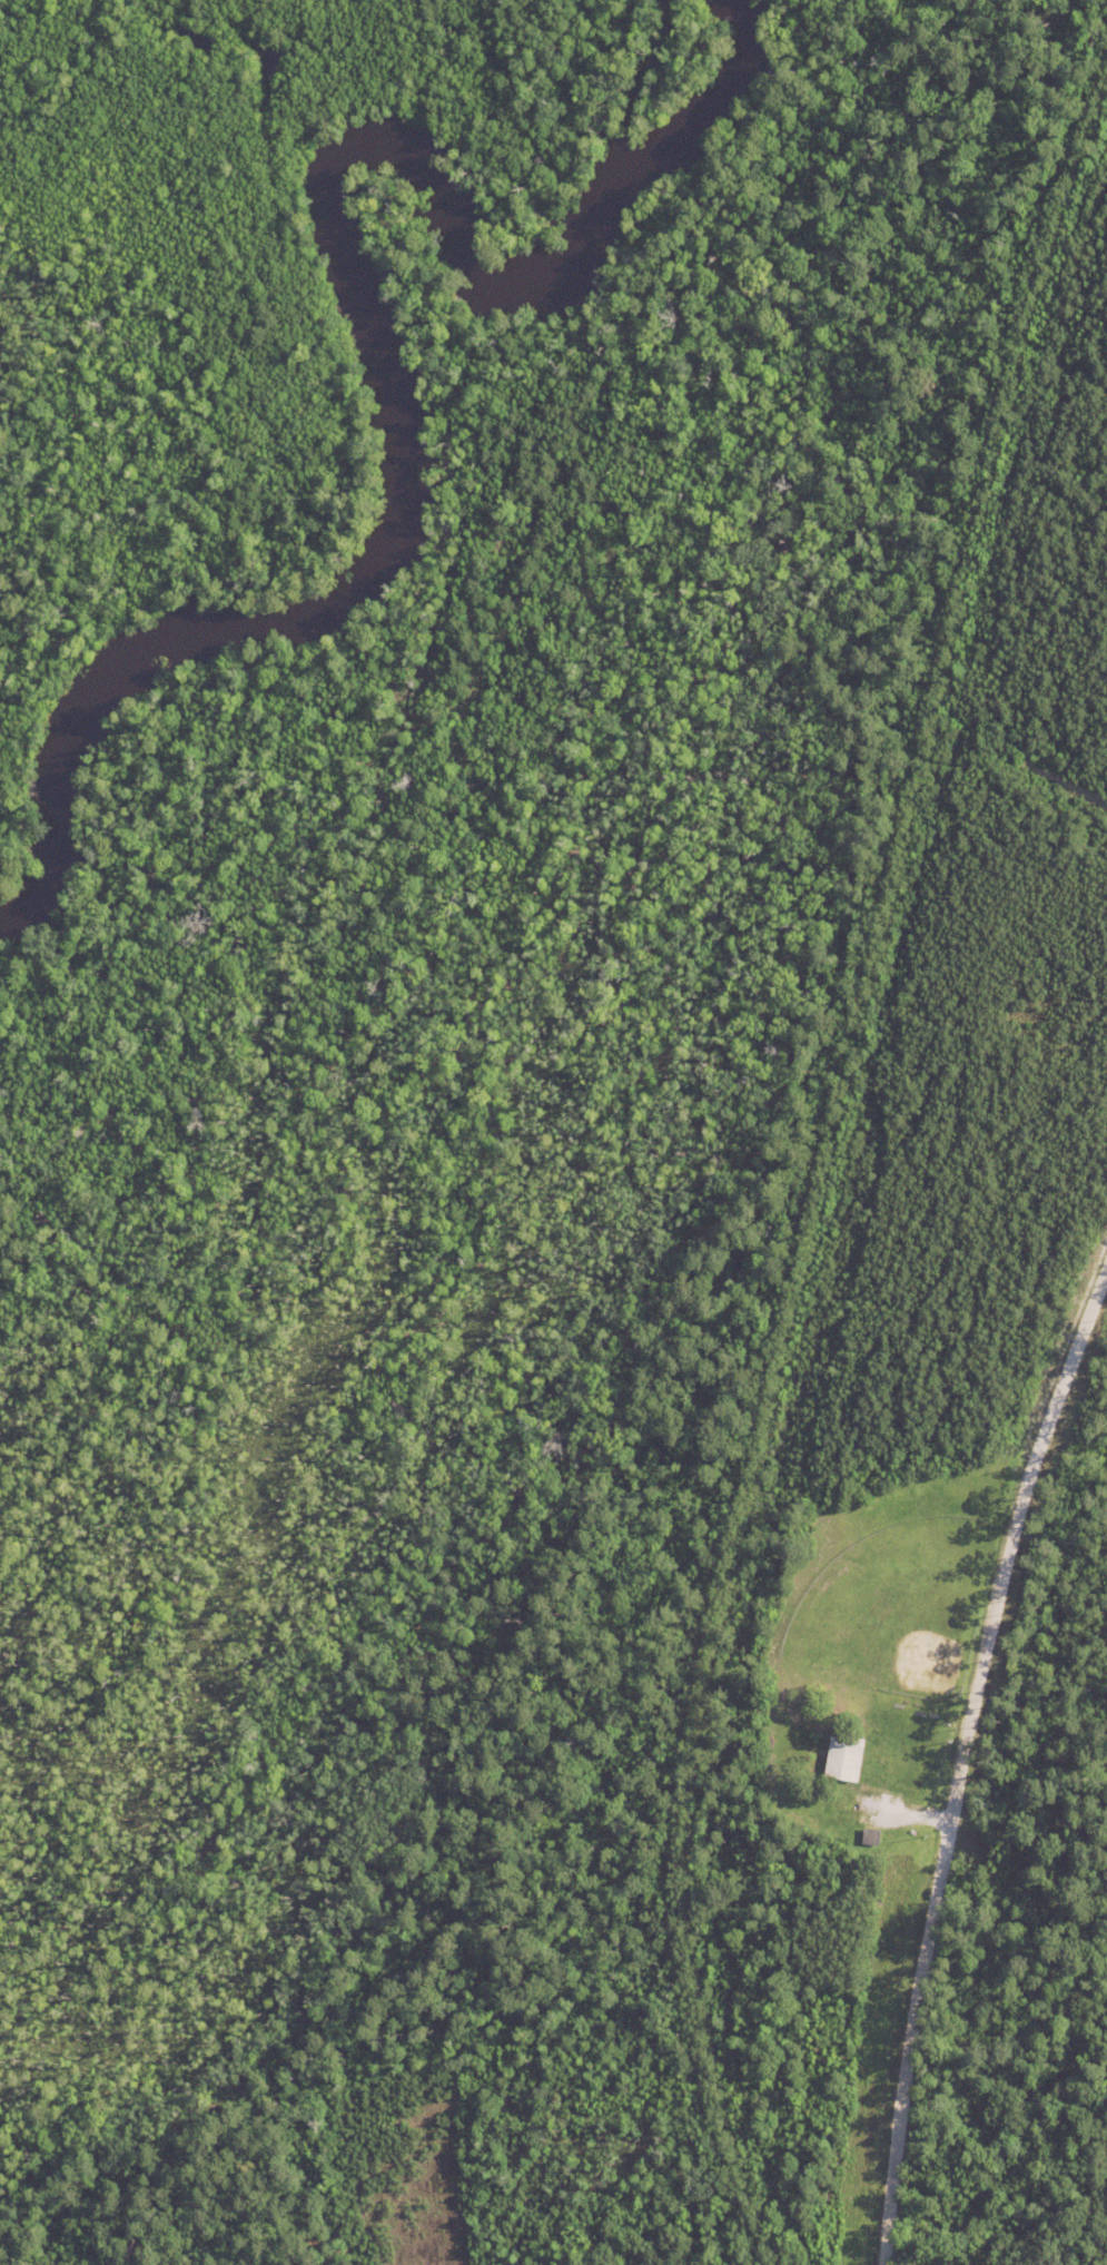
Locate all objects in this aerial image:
road: (960, 1755)
building: (846, 1761)
building: (872, 1839)

